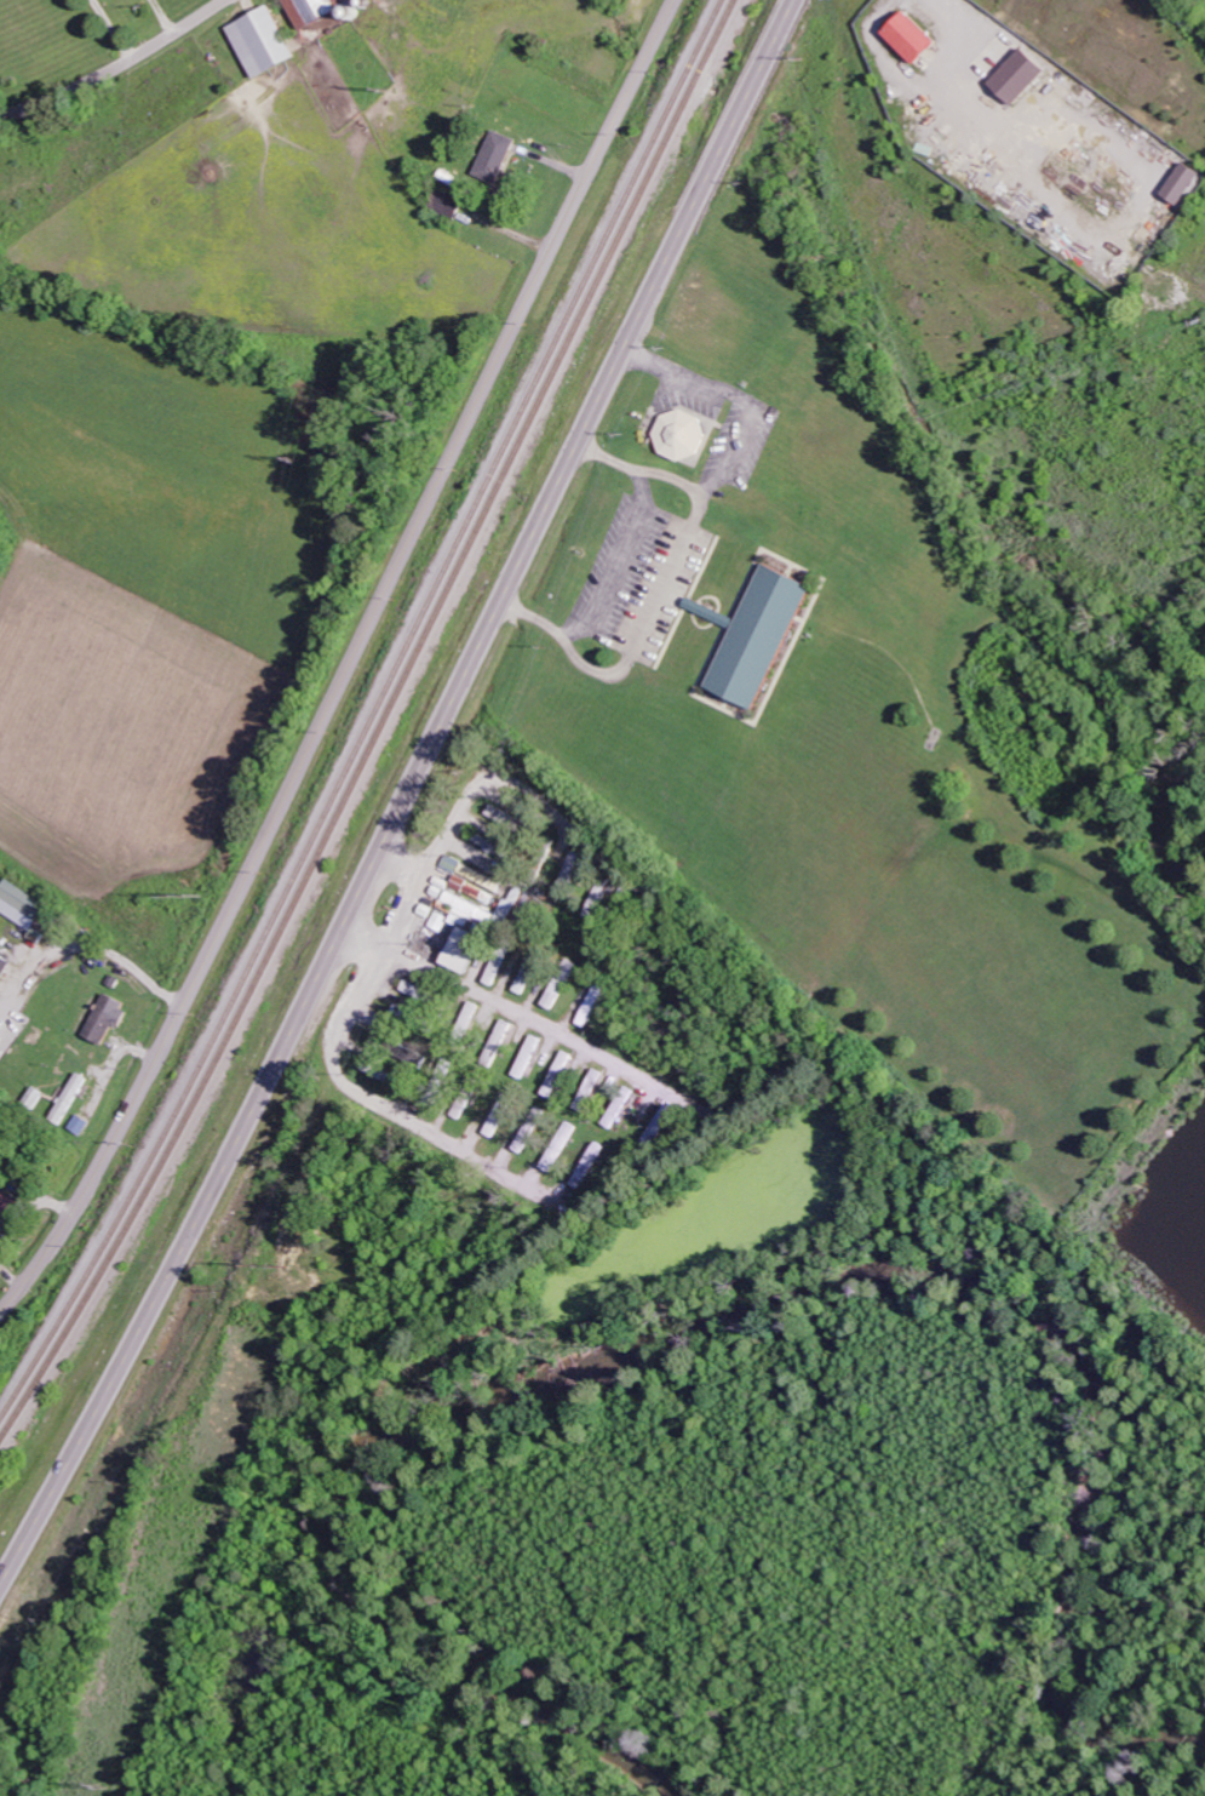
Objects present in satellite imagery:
building: (317, 10)
building: (914, 36)
building: (264, 40)
road: (115, 65)
building: (1021, 75)
building: (498, 156)
building: (1186, 183)
building: (683, 435)
building: (763, 636)
road: (351, 663)
railway: (373, 716)
railway: (381, 727)
road: (406, 795)
building: (21, 905)
building: (470, 909)
building: (466, 950)
building: (4, 965)
building: (556, 995)
building: (105, 1019)
building: (529, 1056)
building: (561, 1074)
building: (598, 1080)
building: (69, 1098)
building: (587, 1102)
building: (79, 1125)
building: (7, 1208)
river: (725, 1295)

